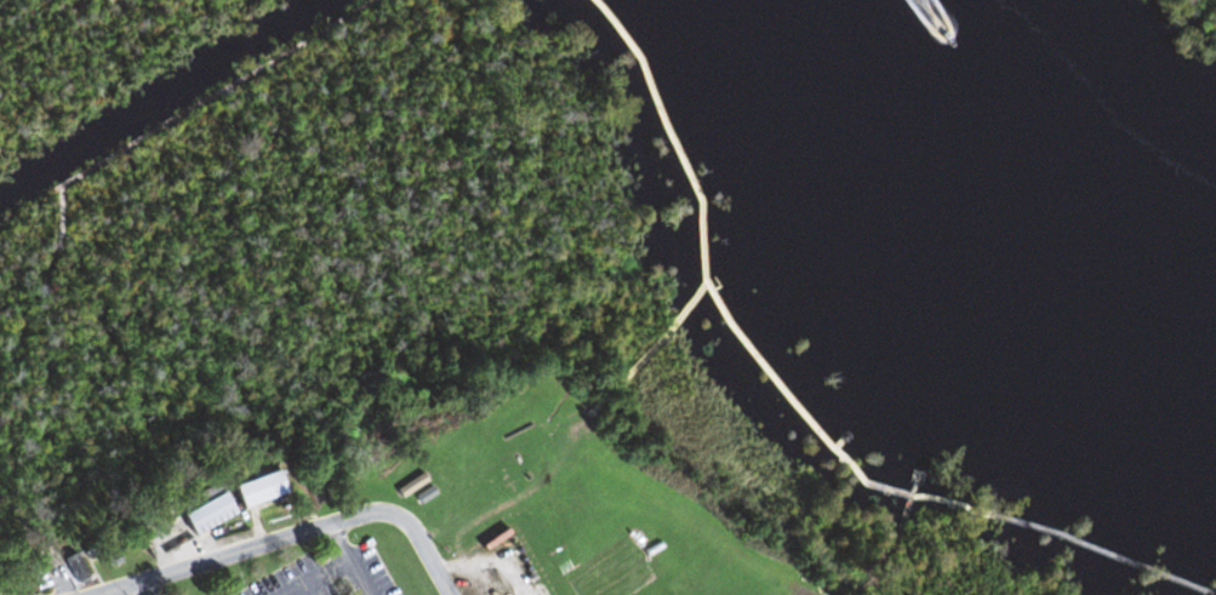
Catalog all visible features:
river: (1015, 190)
road: (646, 349)
road: (793, 408)
building: (410, 486)
building: (264, 488)
building: (213, 513)
road: (896, 522)
road: (257, 525)
road: (293, 533)
road: (344, 560)
building: (79, 565)
parking lot: (369, 571)
road: (313, 577)
parking lot: (295, 578)
road: (141, 587)
road: (1210, 594)

